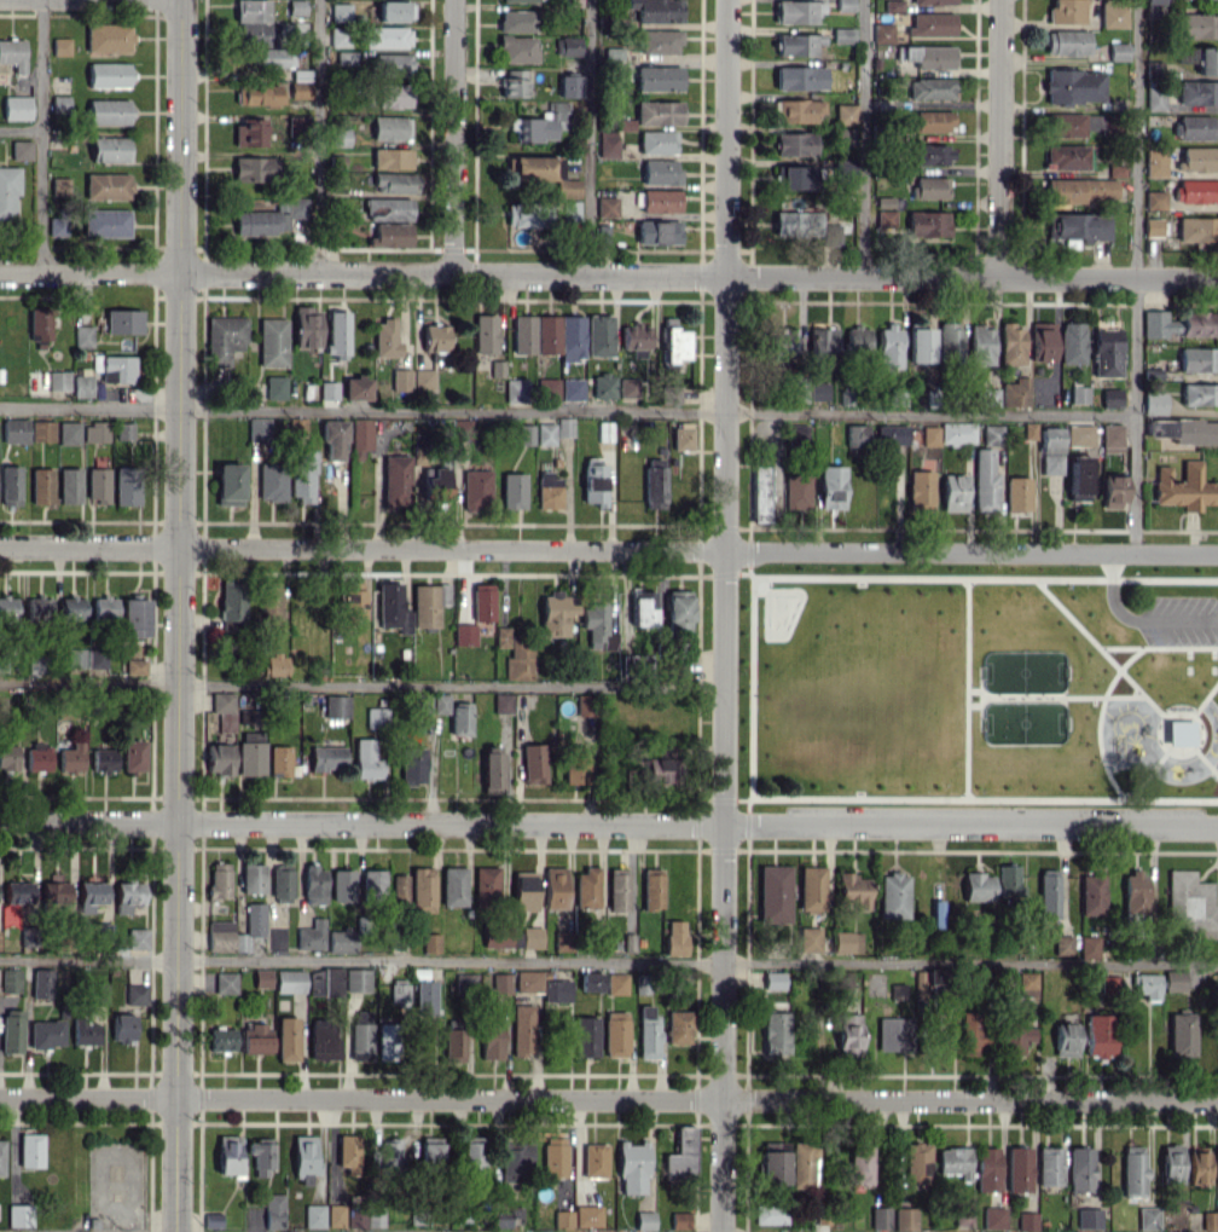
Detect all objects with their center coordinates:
building: (517, 0)
building: (933, 1)
building: (1154, 1)
building: (845, 5)
building: (892, 5)
building: (296, 10)
building: (394, 10)
building: (656, 10)
building: (797, 11)
building: (1066, 11)
building: (340, 12)
building: (1113, 13)
building: (517, 19)
building: (254, 23)
building: (930, 24)
building: (1197, 25)
building: (881, 33)
building: (842, 35)
building: (338, 36)
building: (387, 36)
building: (109, 37)
building: (660, 41)
building: (1066, 42)
building: (797, 44)
building: (60, 46)
building: (567, 46)
building: (517, 48)
building: (1118, 51)
building: (13, 53)
building: (926, 56)
building: (271, 57)
building: (346, 57)
building: (1207, 60)
building: (391, 64)
building: (108, 74)
building: (659, 77)
building: (799, 77)
building: (514, 82)
building: (569, 85)
building: (1073, 86)
building: (298, 88)
building: (929, 88)
building: (1197, 92)
building: (256, 93)
building: (1154, 94)
building: (391, 96)
building: (59, 103)
building: (16, 108)
building: (797, 110)
building: (108, 111)
building: (659, 112)
building: (845, 114)
building: (930, 121)
building: (540, 123)
building: (298, 125)
building: (1065, 125)
building: (390, 127)
building: (1195, 127)
road: (21, 128)
building: (250, 132)
road: (41, 135)
road: (318, 137)
building: (338, 137)
road: (454, 137)
road: (588, 137)
road: (864, 138)
road: (1000, 138)
building: (657, 141)
building: (608, 144)
building: (794, 144)
building: (21, 149)
building: (109, 149)
building: (930, 154)
building: (1065, 156)
building: (391, 157)
building: (1199, 158)
building: (1154, 162)
building: (533, 167)
building: (263, 168)
building: (661, 170)
building: (796, 177)
building: (394, 181)
building: (59, 185)
building: (108, 185)
building: (568, 187)
building: (928, 187)
building: (1080, 190)
building: (8, 191)
building: (1196, 191)
building: (1154, 199)
building: (660, 201)
building: (607, 206)
building: (297, 207)
building: (387, 209)
building: (568, 210)
building: (527, 214)
building: (884, 218)
building: (795, 219)
building: (105, 222)
building: (256, 222)
building: (927, 222)
building: (57, 224)
building: (1080, 226)
building: (1152, 226)
building: (1197, 229)
building: (659, 231)
building: (830, 233)
building: (390, 235)
road: (608, 274)
road: (1136, 276)
building: (123, 320)
building: (1199, 323)
building: (1158, 324)
building: (40, 326)
building: (306, 326)
building: (486, 332)
building: (523, 334)
building: (547, 334)
building: (83, 335)
building: (599, 335)
building: (434, 337)
building: (570, 337)
building: (225, 339)
building: (385, 339)
building: (636, 339)
building: (950, 339)
building: (857, 340)
building: (272, 341)
building: (673, 341)
building: (781, 341)
building: (1042, 341)
building: (1071, 342)
building: (1010, 343)
building: (920, 345)
building: (980, 345)
building: (888, 347)
building: (1106, 352)
building: (1197, 359)
building: (117, 369)
building: (423, 378)
building: (58, 380)
building: (401, 380)
building: (82, 386)
building: (274, 386)
building: (603, 386)
building: (628, 387)
building: (356, 388)
building: (572, 388)
building: (329, 389)
building: (516, 389)
building: (818, 391)
building: (1015, 392)
building: (1199, 393)
building: (671, 394)
building: (1078, 394)
building: (988, 397)
building: (1110, 397)
building: (1153, 401)
road: (568, 411)
building: (564, 427)
building: (43, 429)
building: (259, 429)
building: (14, 430)
building: (123, 430)
building: (1028, 430)
building: (1184, 430)
building: (69, 432)
building: (95, 432)
building: (545, 433)
building: (956, 433)
building: (523, 434)
building: (855, 434)
building: (891, 434)
building: (991, 434)
building: (1079, 434)
building: (929, 435)
building: (360, 436)
building: (681, 436)
building: (1110, 438)
building: (333, 439)
building: (1050, 439)
building: (1050, 463)
building: (302, 475)
building: (1077, 478)
building: (395, 480)
building: (984, 480)
building: (272, 481)
building: (435, 481)
building: (594, 482)
building: (97, 484)
building: (228, 484)
building: (10, 485)
building: (41, 485)
building: (69, 485)
building: (127, 485)
building: (654, 486)
building: (831, 486)
building: (1184, 486)
building: (476, 487)
building: (512, 490)
building: (549, 490)
building: (918, 490)
building: (796, 491)
building: (1112, 491)
building: (760, 492)
building: (952, 492)
building: (1016, 493)
road: (609, 549)
road: (1108, 592)
building: (232, 600)
building: (269, 600)
building: (482, 601)
building: (353, 603)
building: (428, 603)
building: (7, 605)
building: (104, 606)
building: (393, 607)
building: (643, 607)
road: (178, 615)
road: (724, 615)
building: (134, 617)
road: (1176, 618)
building: (598, 623)
building: (464, 634)
building: (515, 654)
building: (75, 657)
building: (98, 658)
building: (36, 664)
building: (274, 664)
building: (135, 666)
road: (361, 686)
park: (979, 687)
building: (222, 701)
building: (440, 702)
building: (503, 702)
building: (582, 704)
building: (336, 706)
building: (246, 716)
building: (376, 717)
building: (460, 719)
building: (1178, 733)
building: (250, 753)
building: (8, 754)
building: (134, 754)
building: (39, 756)
building: (71, 757)
building: (326, 757)
building: (104, 759)
building: (219, 759)
building: (279, 759)
building: (366, 759)
building: (532, 763)
building: (578, 764)
building: (413, 765)
building: (657, 769)
building: (492, 771)
road: (609, 822)
building: (253, 878)
building: (219, 880)
building: (1007, 880)
building: (372, 883)
building: (282, 884)
building: (314, 884)
building: (342, 885)
building: (453, 885)
building: (486, 885)
building: (976, 886)
building: (555, 887)
building: (586, 887)
building: (651, 887)
building: (422, 889)
building: (811, 889)
building: (399, 890)
building: (524, 890)
building: (617, 890)
building: (852, 890)
building: (18, 891)
building: (54, 891)
building: (773, 893)
building: (1048, 893)
building: (1091, 893)
building: (1135, 893)
building: (91, 895)
building: (128, 895)
building: (893, 895)
building: (1190, 904)
building: (936, 913)
building: (255, 919)
building: (220, 935)
building: (311, 935)
building: (0, 936)
building: (532, 937)
building: (675, 937)
building: (495, 938)
building: (810, 938)
building: (340, 939)
building: (138, 941)
building: (562, 941)
building: (430, 942)
building: (847, 942)
building: (1089, 947)
road: (608, 962)
building: (262, 977)
building: (356, 979)
building: (775, 979)
building: (11, 981)
building: (289, 981)
building: (325, 981)
building: (528, 981)
building: (591, 981)
building: (1173, 981)
building: (42, 982)
building: (226, 982)
building: (616, 983)
building: (1027, 983)
building: (1109, 983)
building: (1147, 984)
building: (499, 985)
building: (399, 990)
building: (556, 990)
building: (98, 993)
building: (137, 994)
building: (425, 996)
building: (678, 1026)
building: (123, 1028)
building: (522, 1029)
building: (12, 1031)
building: (86, 1031)
building: (776, 1031)
building: (46, 1033)
building: (648, 1033)
building: (971, 1033)
building: (616, 1034)
building: (1181, 1034)
building: (585, 1035)
building: (1098, 1035)
building: (361, 1036)
building: (255, 1037)
building: (288, 1037)
building: (1015, 1037)
building: (222, 1039)
building: (848, 1039)
building: (891, 1039)
building: (1065, 1039)
building: (323, 1041)
building: (388, 1041)
building: (491, 1041)
building: (453, 1045)
road: (608, 1098)
building: (31, 1150)
building: (430, 1152)
building: (227, 1153)
building: (261, 1153)
building: (348, 1153)
building: (388, 1155)
building: (553, 1155)
building: (681, 1155)
building: (1, 1156)
building: (472, 1156)
building: (304, 1158)
building: (594, 1159)
building: (953, 1161)
building: (514, 1162)
building: (773, 1162)
building: (916, 1162)
building: (802, 1163)
building: (862, 1163)
building: (1171, 1163)
building: (1216, 1164)
building: (1049, 1166)
building: (1197, 1166)
building: (632, 1167)
building: (1017, 1168)
building: (987, 1169)
building: (1079, 1169)
building: (1132, 1170)
building: (274, 1210)
building: (962, 1210)
building: (771, 1213)
building: (19, 1215)
building: (314, 1215)
building: (336, 1215)
building: (587, 1215)
building: (503, 1216)
building: (375, 1217)
building: (563, 1217)
building: (880, 1217)
building: (993, 1217)
building: (1087, 1217)
building: (1148, 1217)
building: (355, 1219)
building: (905, 1219)
building: (1026, 1219)
building: (1216, 1219)
building: (645, 1220)
building: (680, 1220)
building: (1208, 1220)

